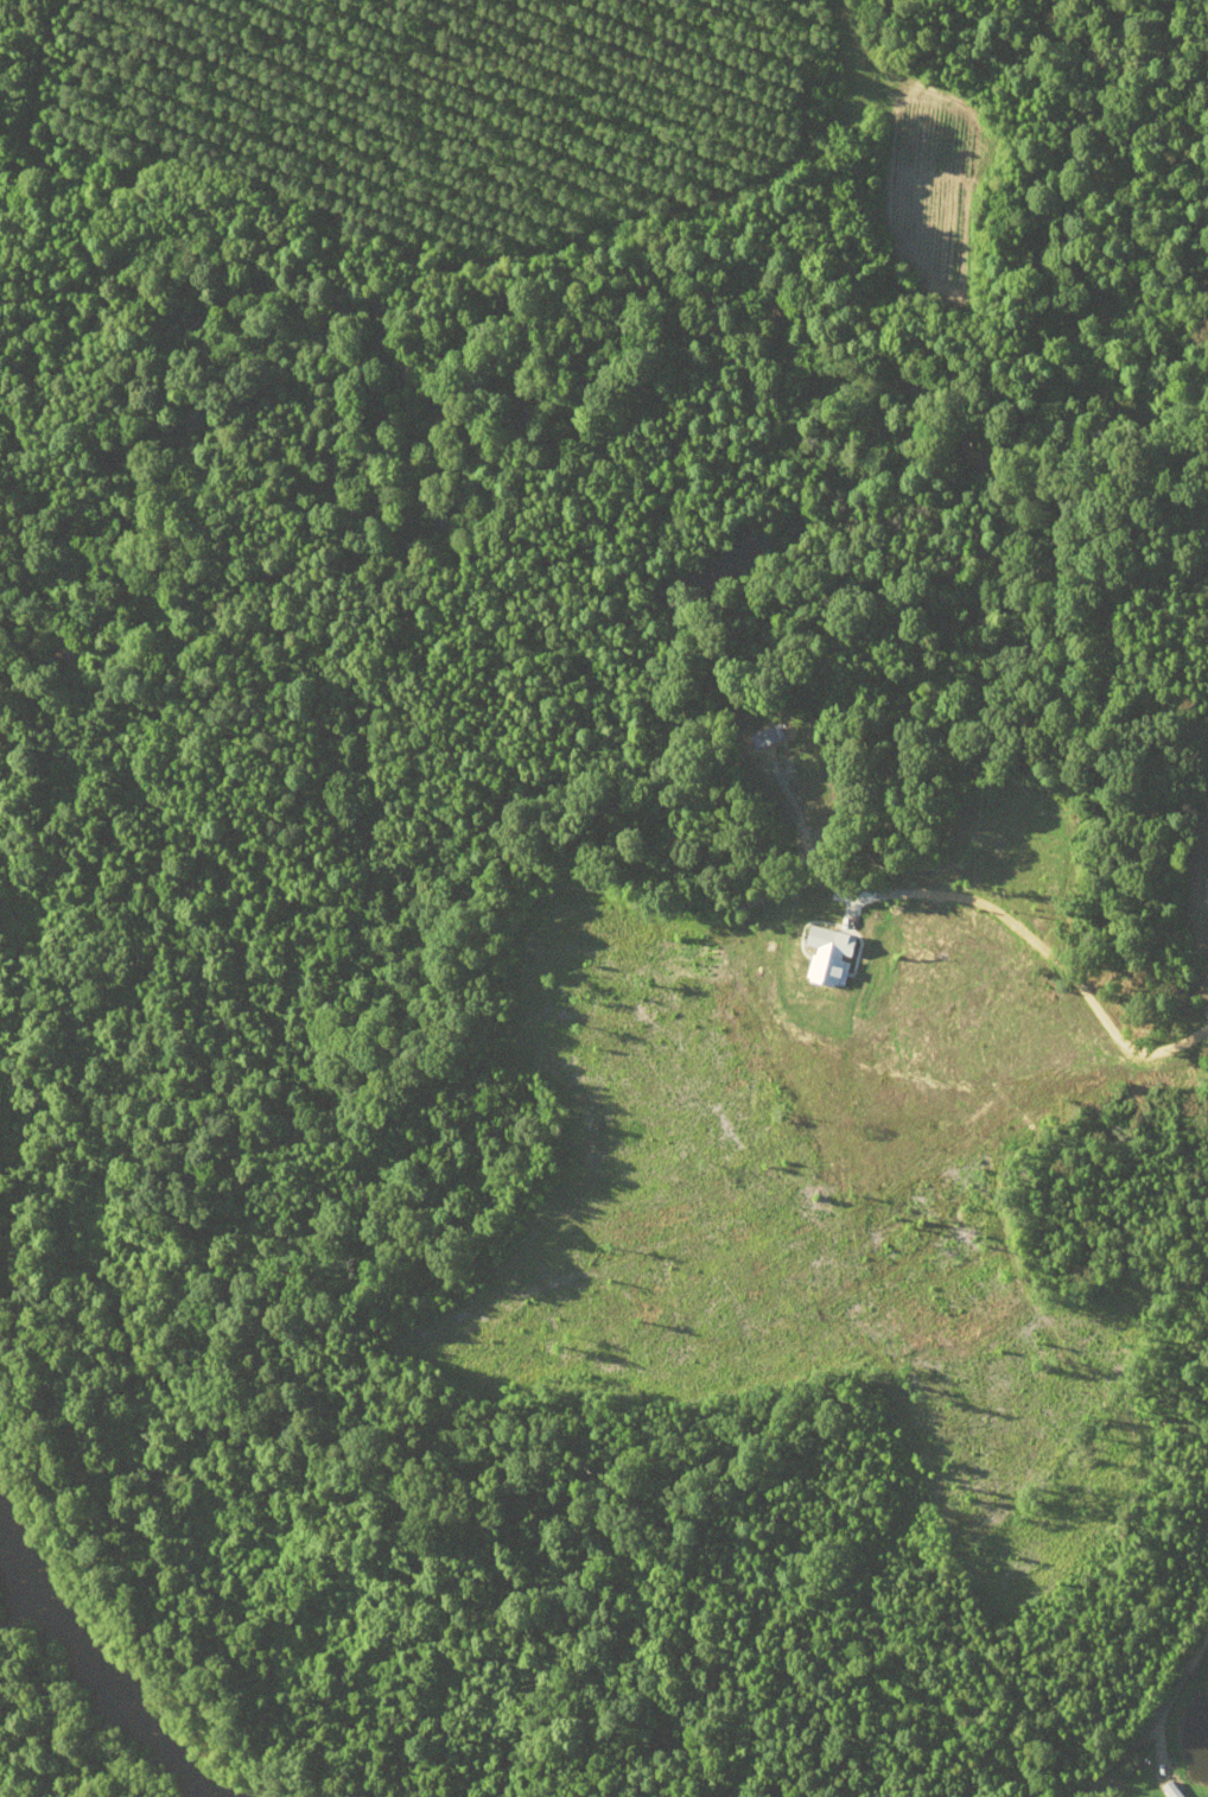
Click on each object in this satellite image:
road: (1180, 839)
road: (1042, 942)
road: (1159, 1710)
building: (1172, 1790)

